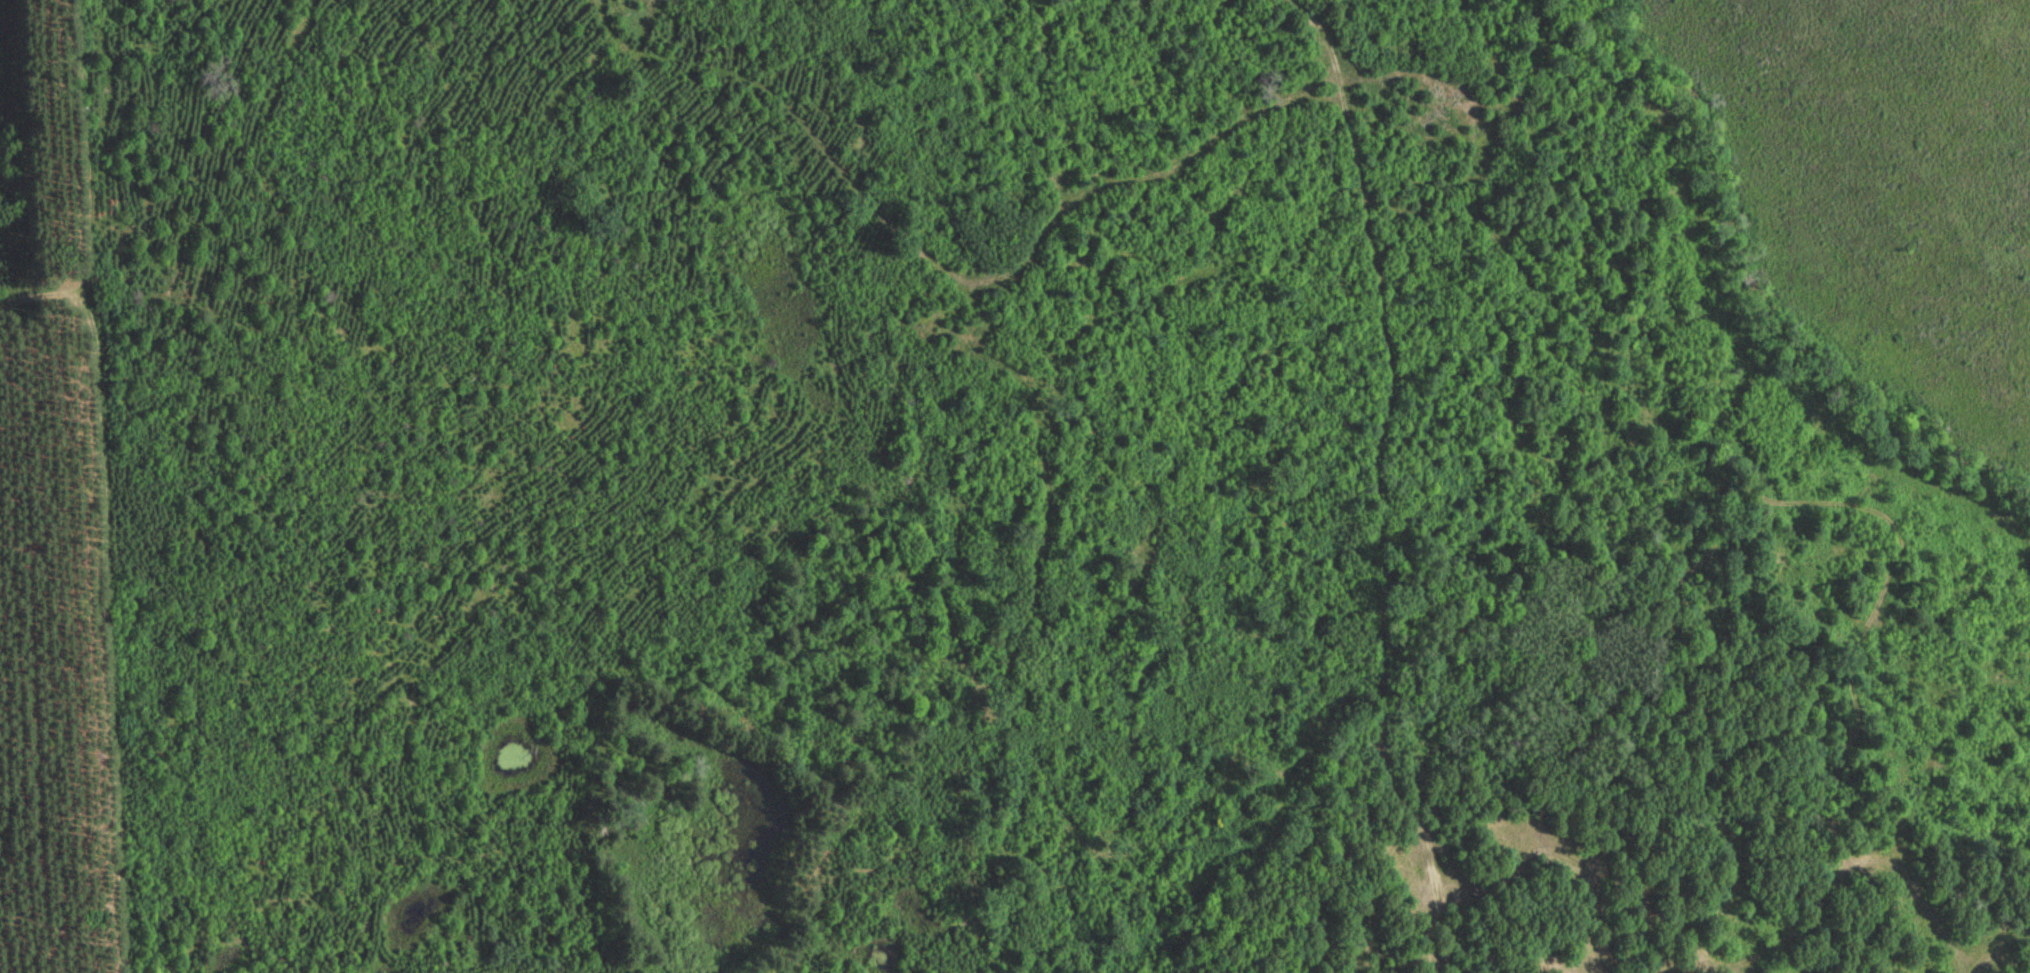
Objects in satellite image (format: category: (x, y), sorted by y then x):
road: (985, 285)
road: (1389, 529)

